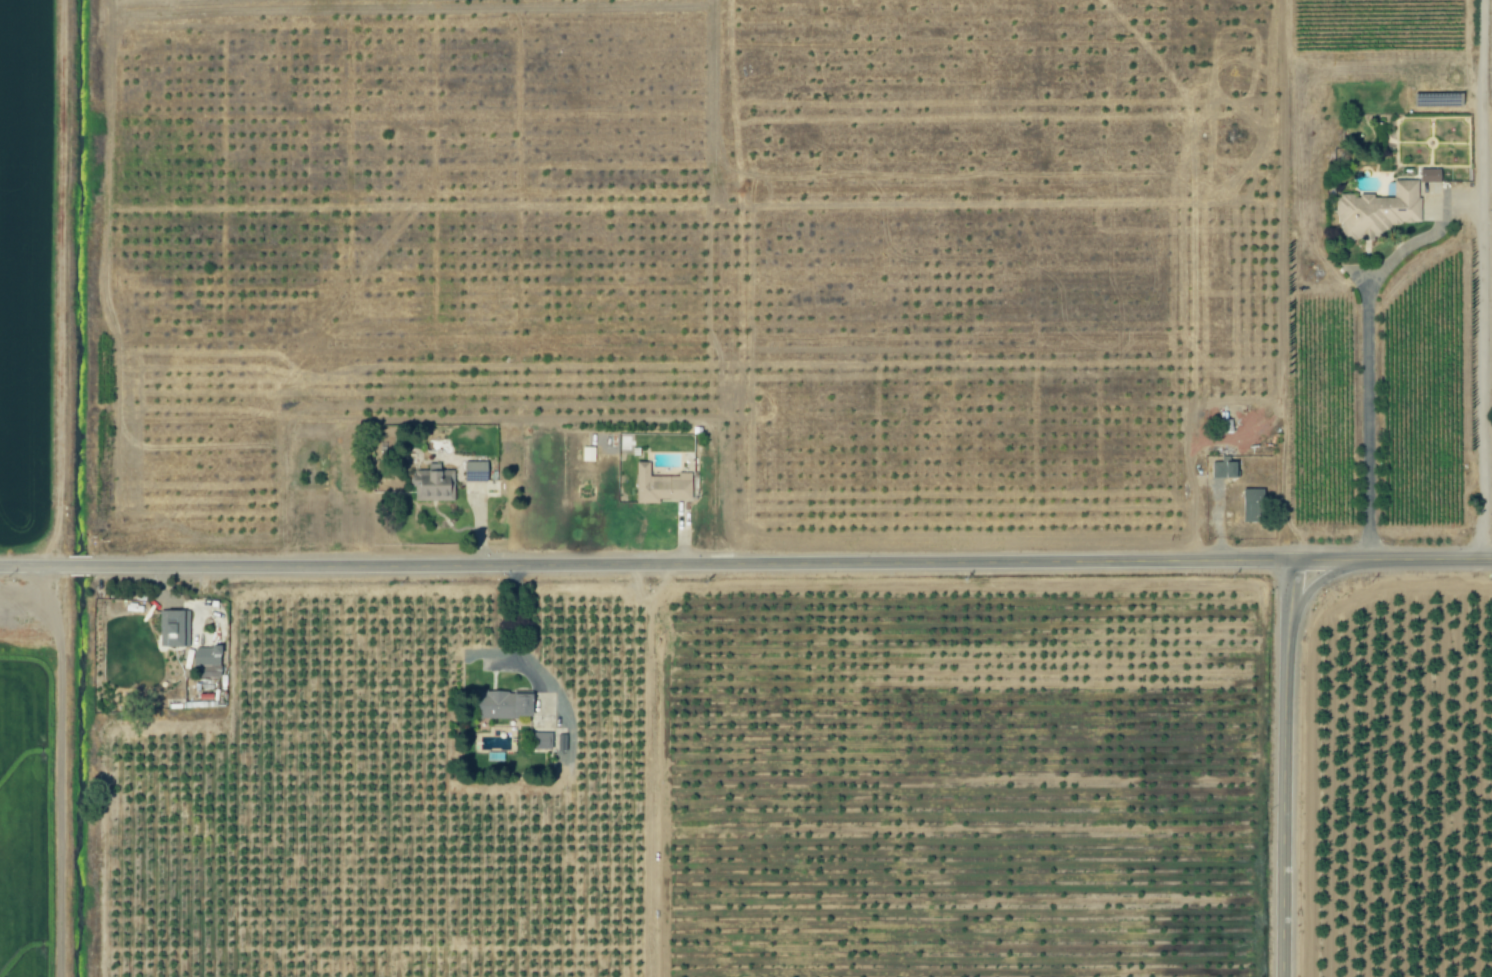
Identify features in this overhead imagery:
road: (1487, 111)
building: (1380, 211)
road: (1481, 279)
road: (1368, 350)
building: (1225, 469)
building: (475, 471)
building: (434, 486)
building: (660, 486)
building: (1253, 505)
road: (1390, 559)
road: (644, 564)
building: (174, 629)
road: (514, 645)
building: (208, 664)
building: (504, 706)
building: (542, 742)
road: (1282, 768)
road: (649, 770)

